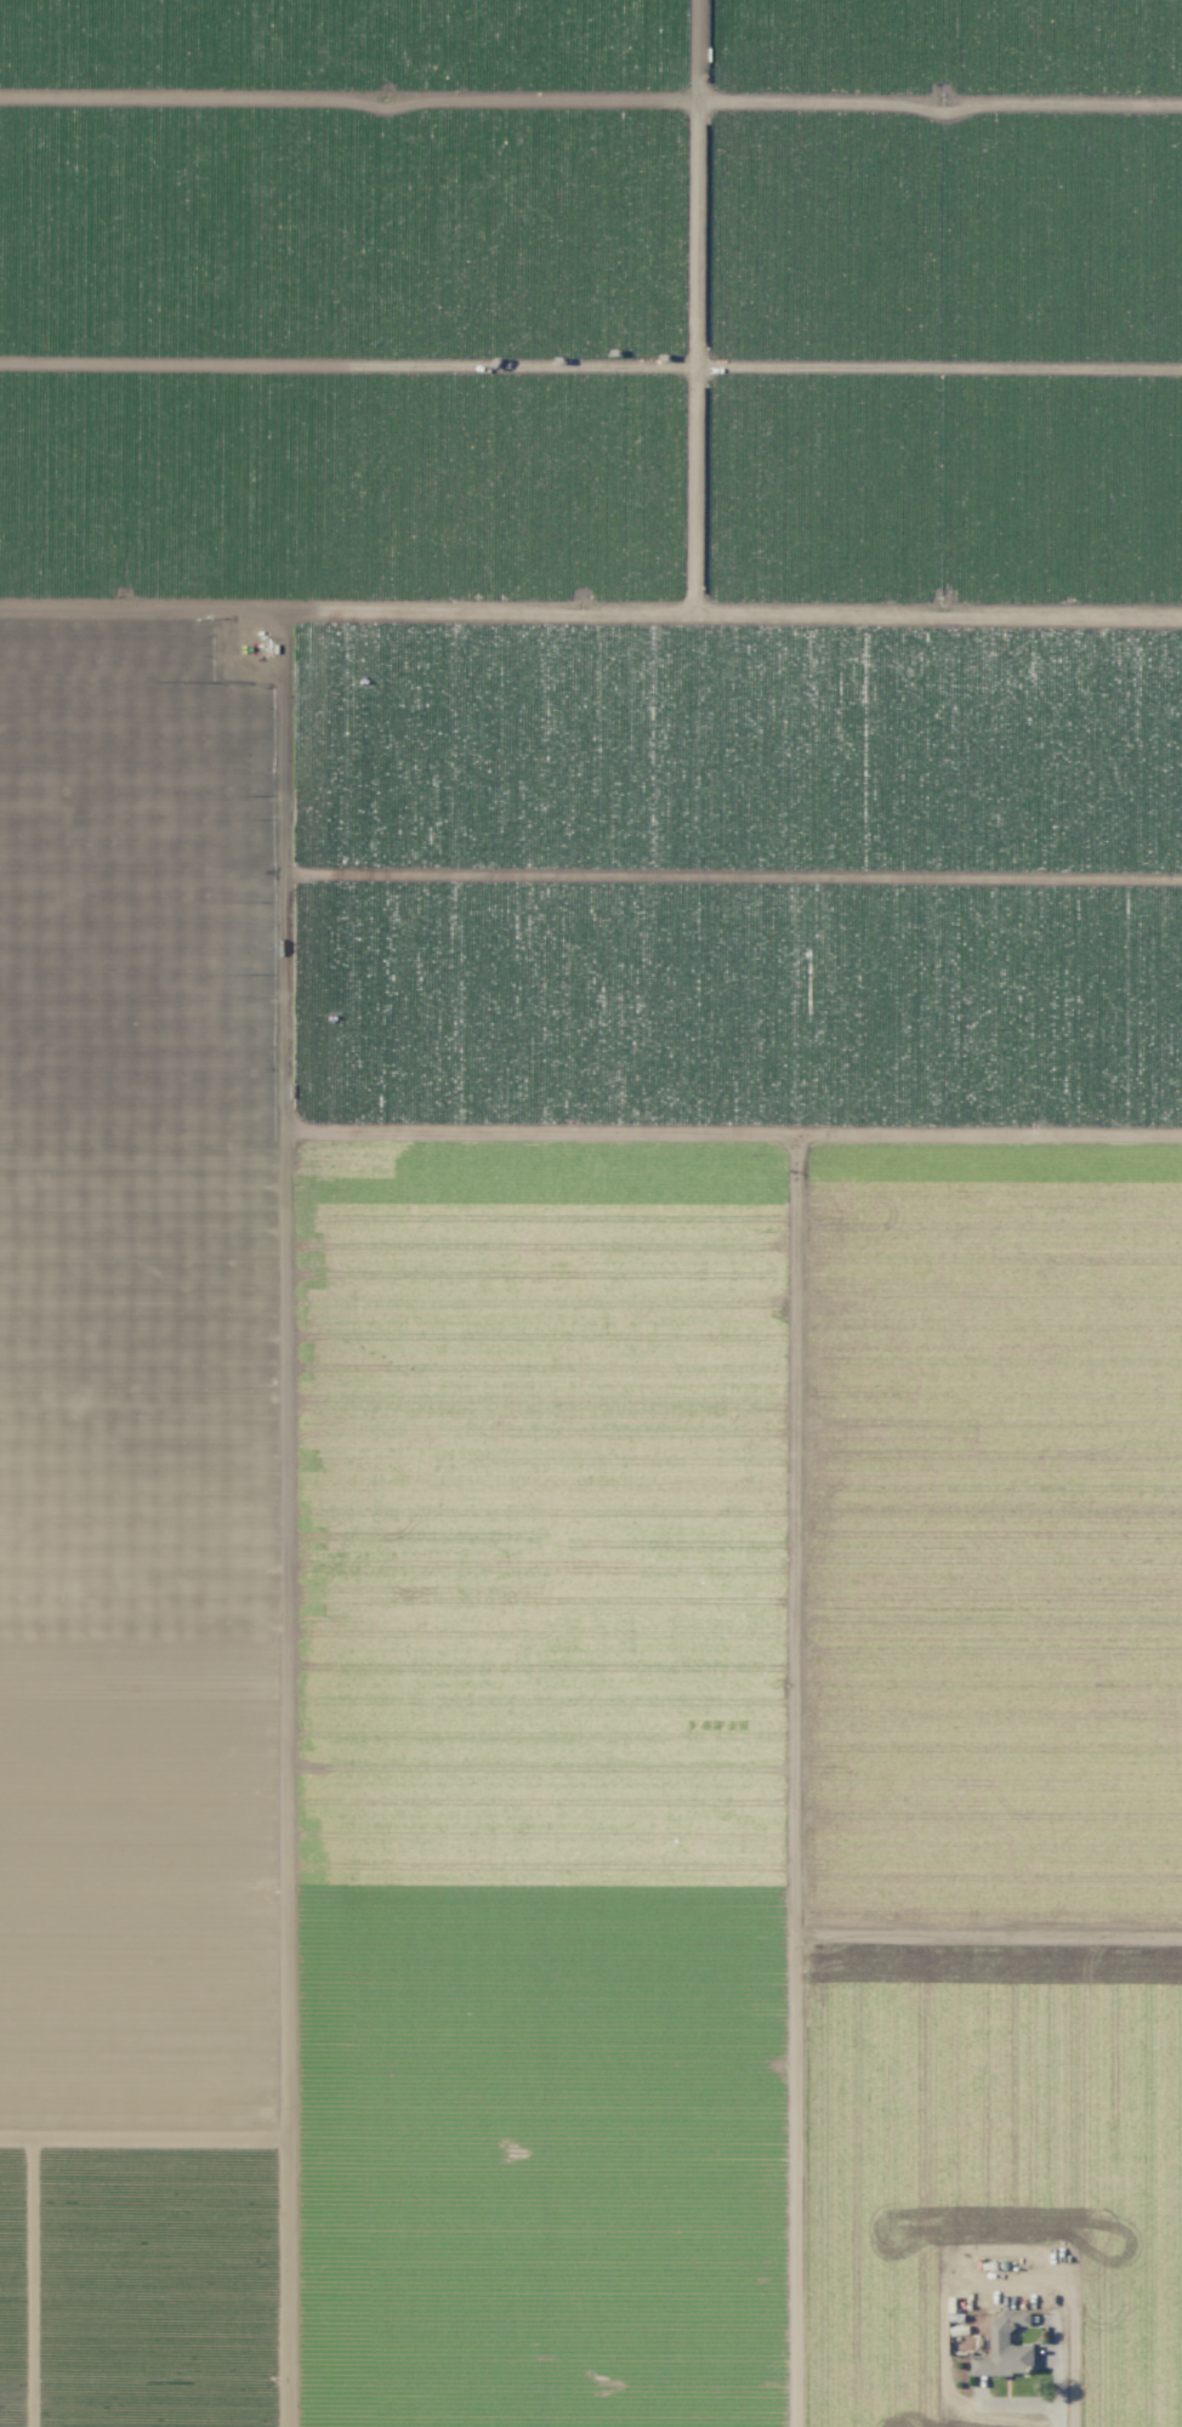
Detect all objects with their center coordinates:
crop: (591, 1213)
building: (998, 2354)

